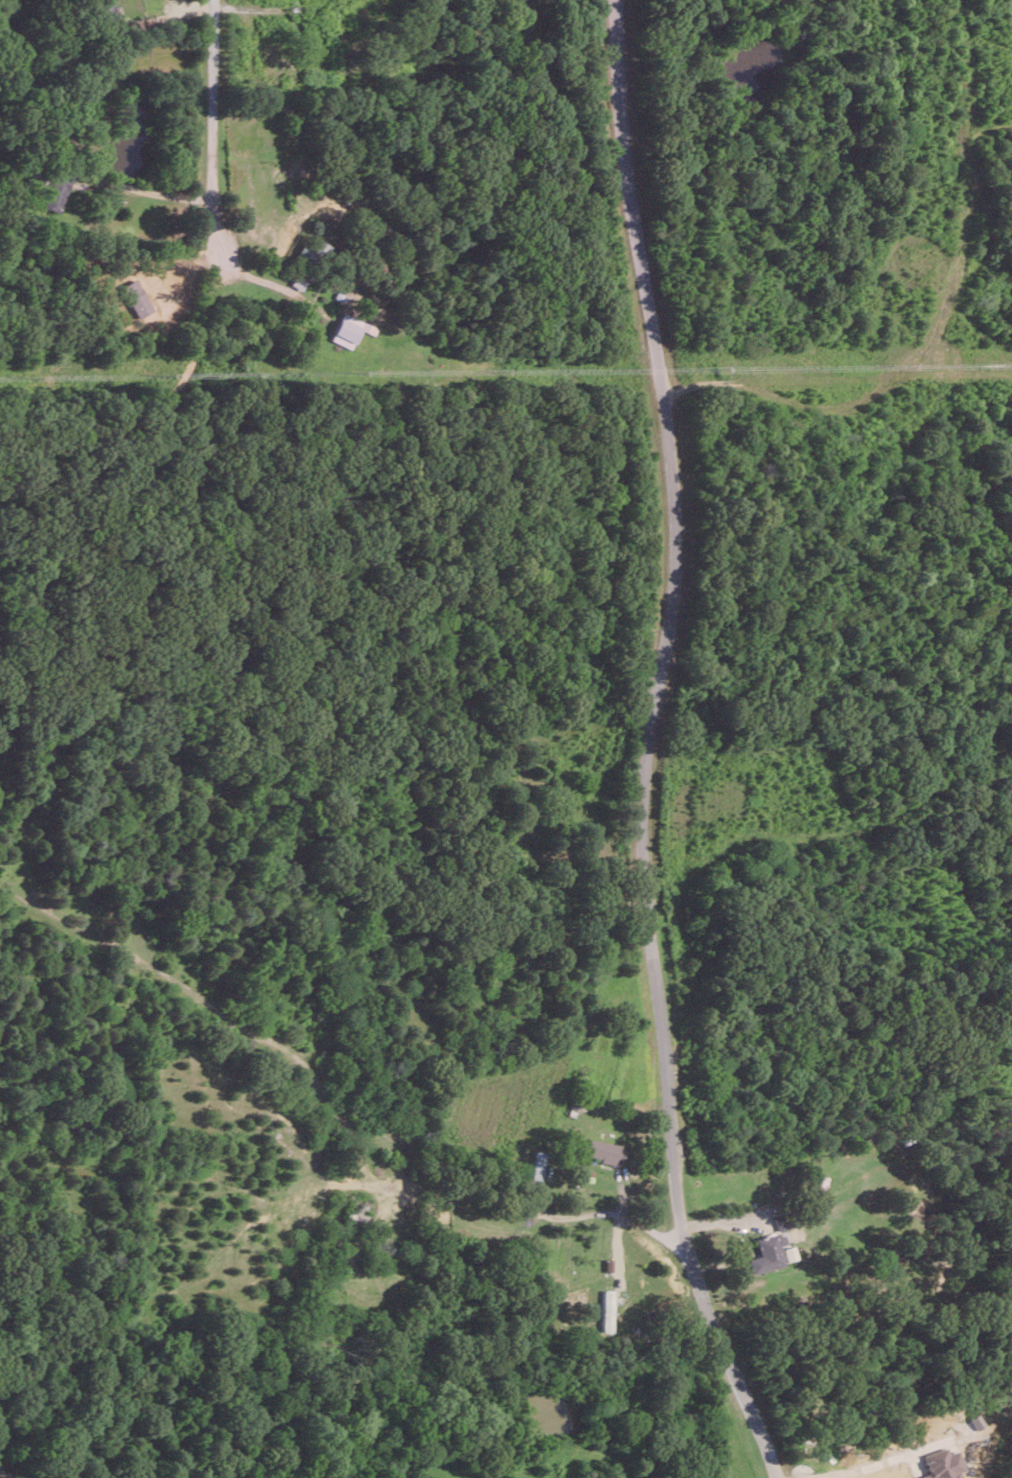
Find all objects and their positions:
building: (107, 11)
road: (213, 131)
road: (148, 190)
building: (56, 192)
road: (666, 578)
road: (581, 1145)
building: (601, 1150)
road: (621, 1213)
road: (729, 1317)
road: (892, 1460)
building: (942, 1464)

